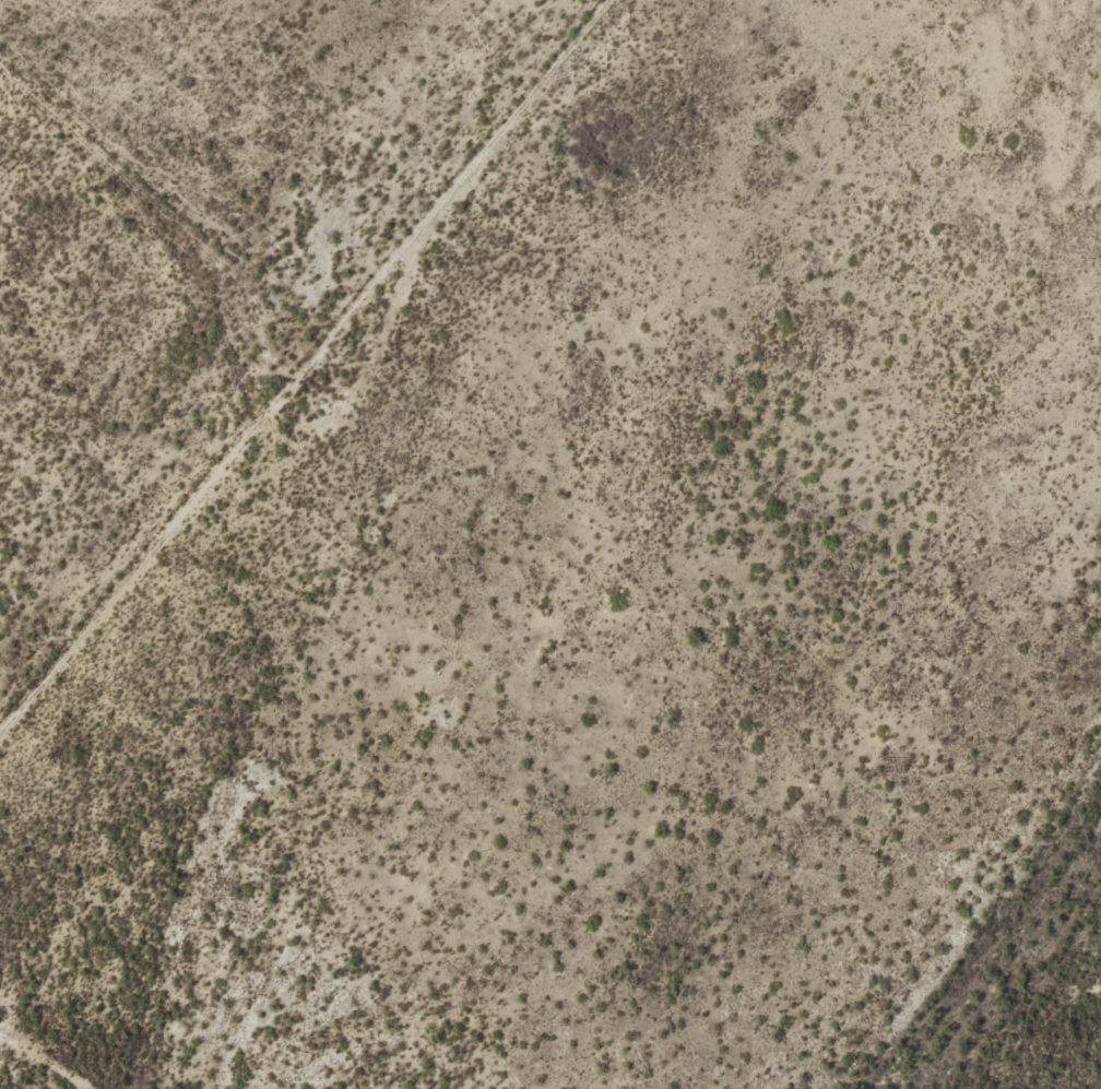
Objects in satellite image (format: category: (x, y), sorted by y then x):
road: (258, 372)
road: (346, 401)
road: (204, 483)
road: (45, 1061)

